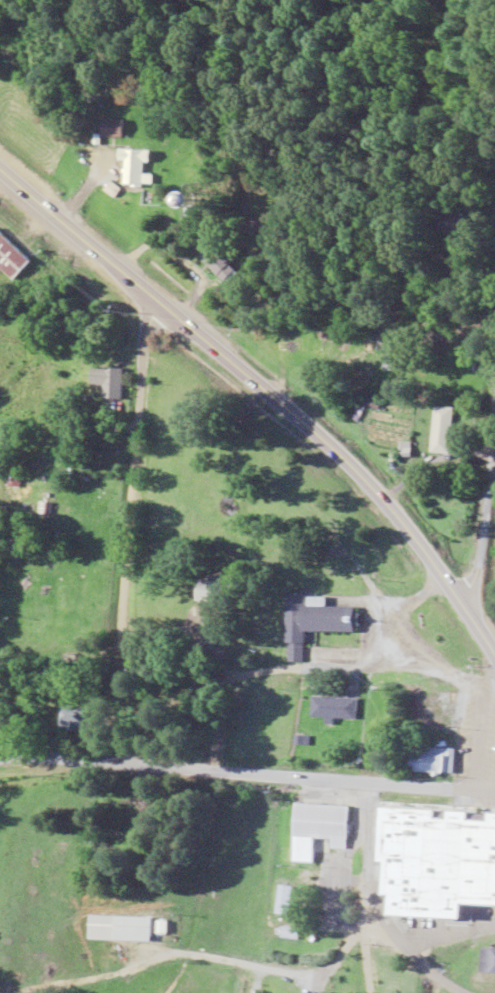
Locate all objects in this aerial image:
building: (118, 129)
building: (139, 170)
building: (222, 203)
building: (13, 258)
building: (221, 264)
building: (107, 382)
road: (268, 397)
building: (441, 430)
road: (482, 470)
road: (129, 482)
building: (313, 622)
road: (305, 660)
building: (57, 686)
building: (332, 709)
road: (115, 713)
building: (79, 719)
road: (247, 773)
building: (324, 825)
building: (458, 862)
road: (49, 867)
road: (208, 882)
building: (283, 900)
building: (123, 929)
building: (489, 962)

